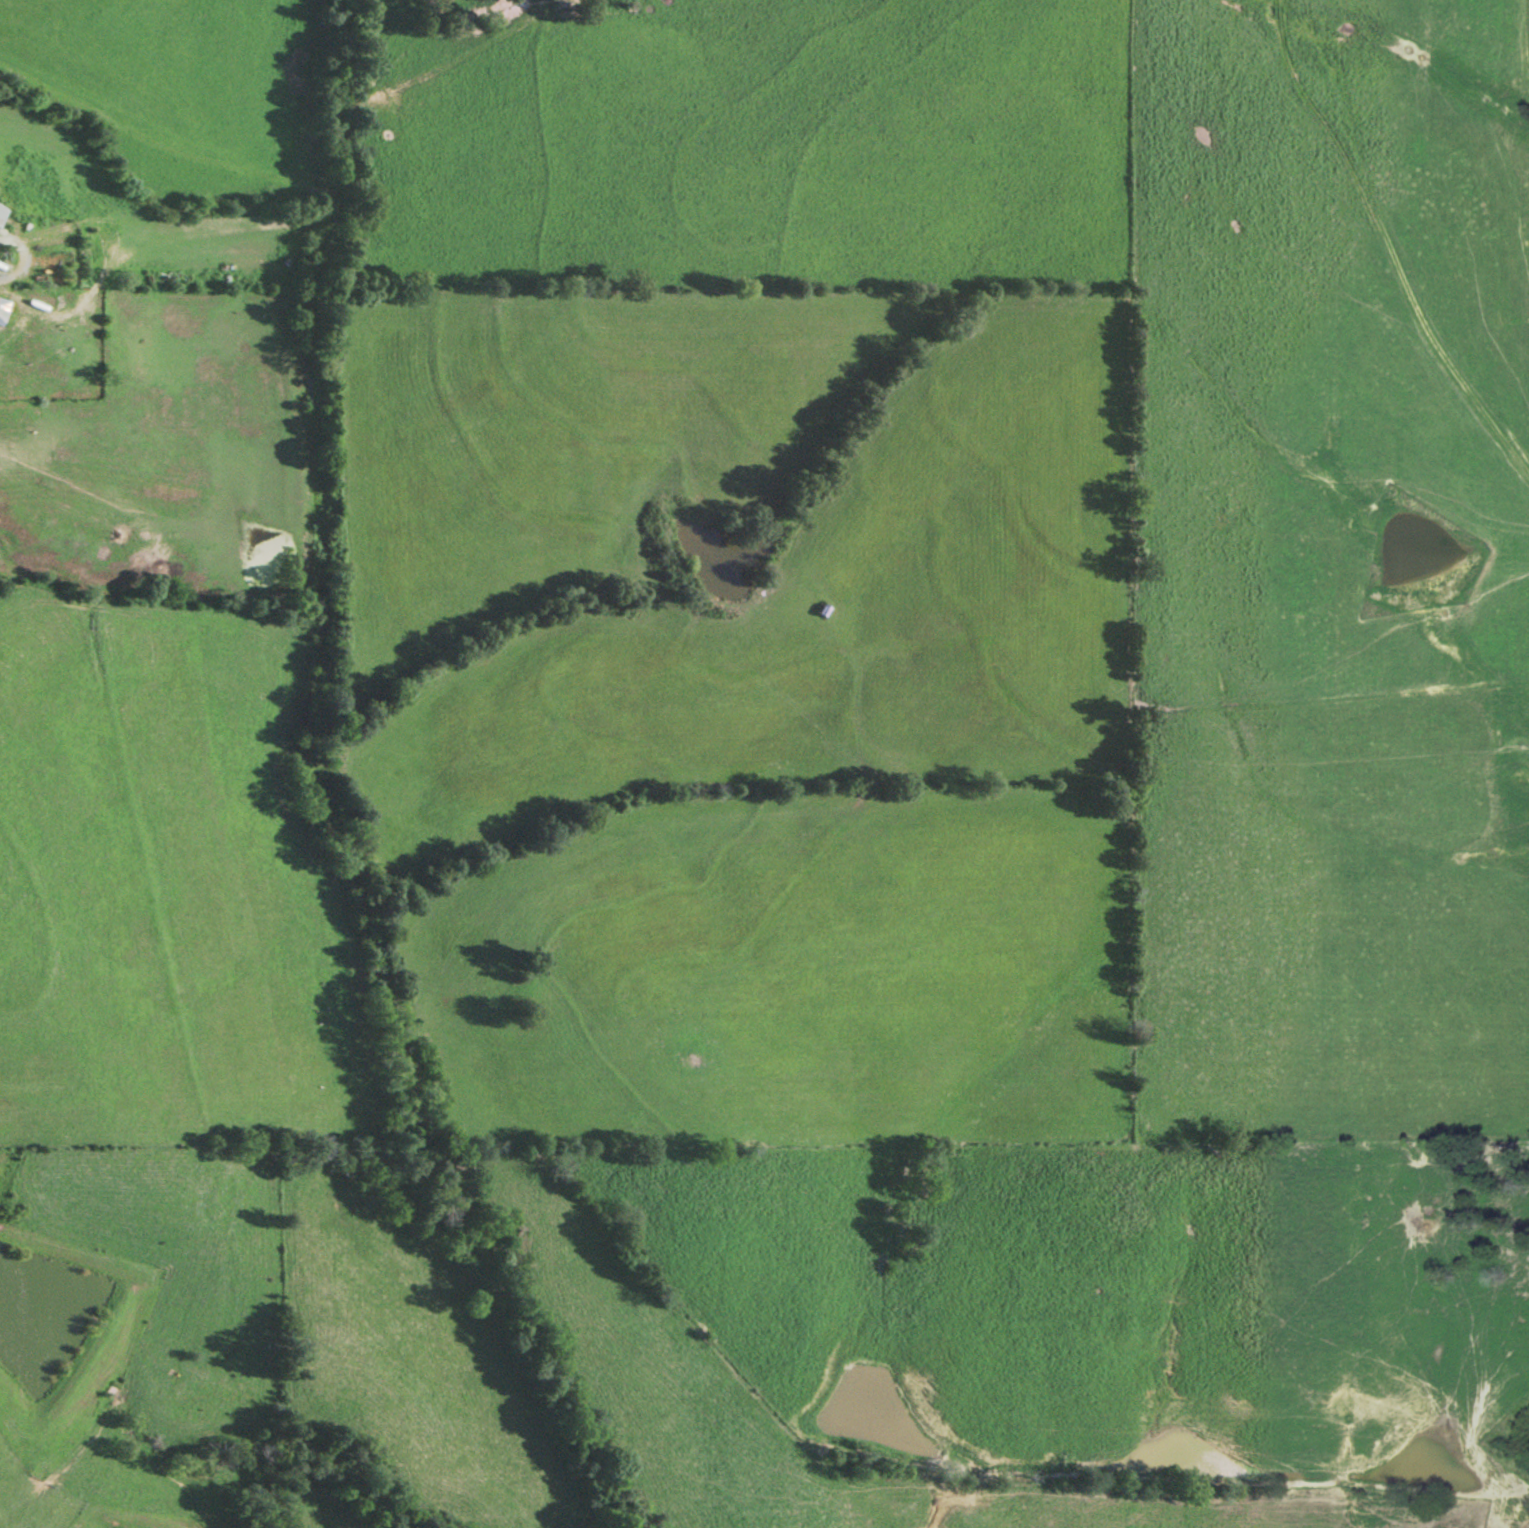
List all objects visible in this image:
building: (2, 211)
building: (60, 267)
building: (2, 309)

